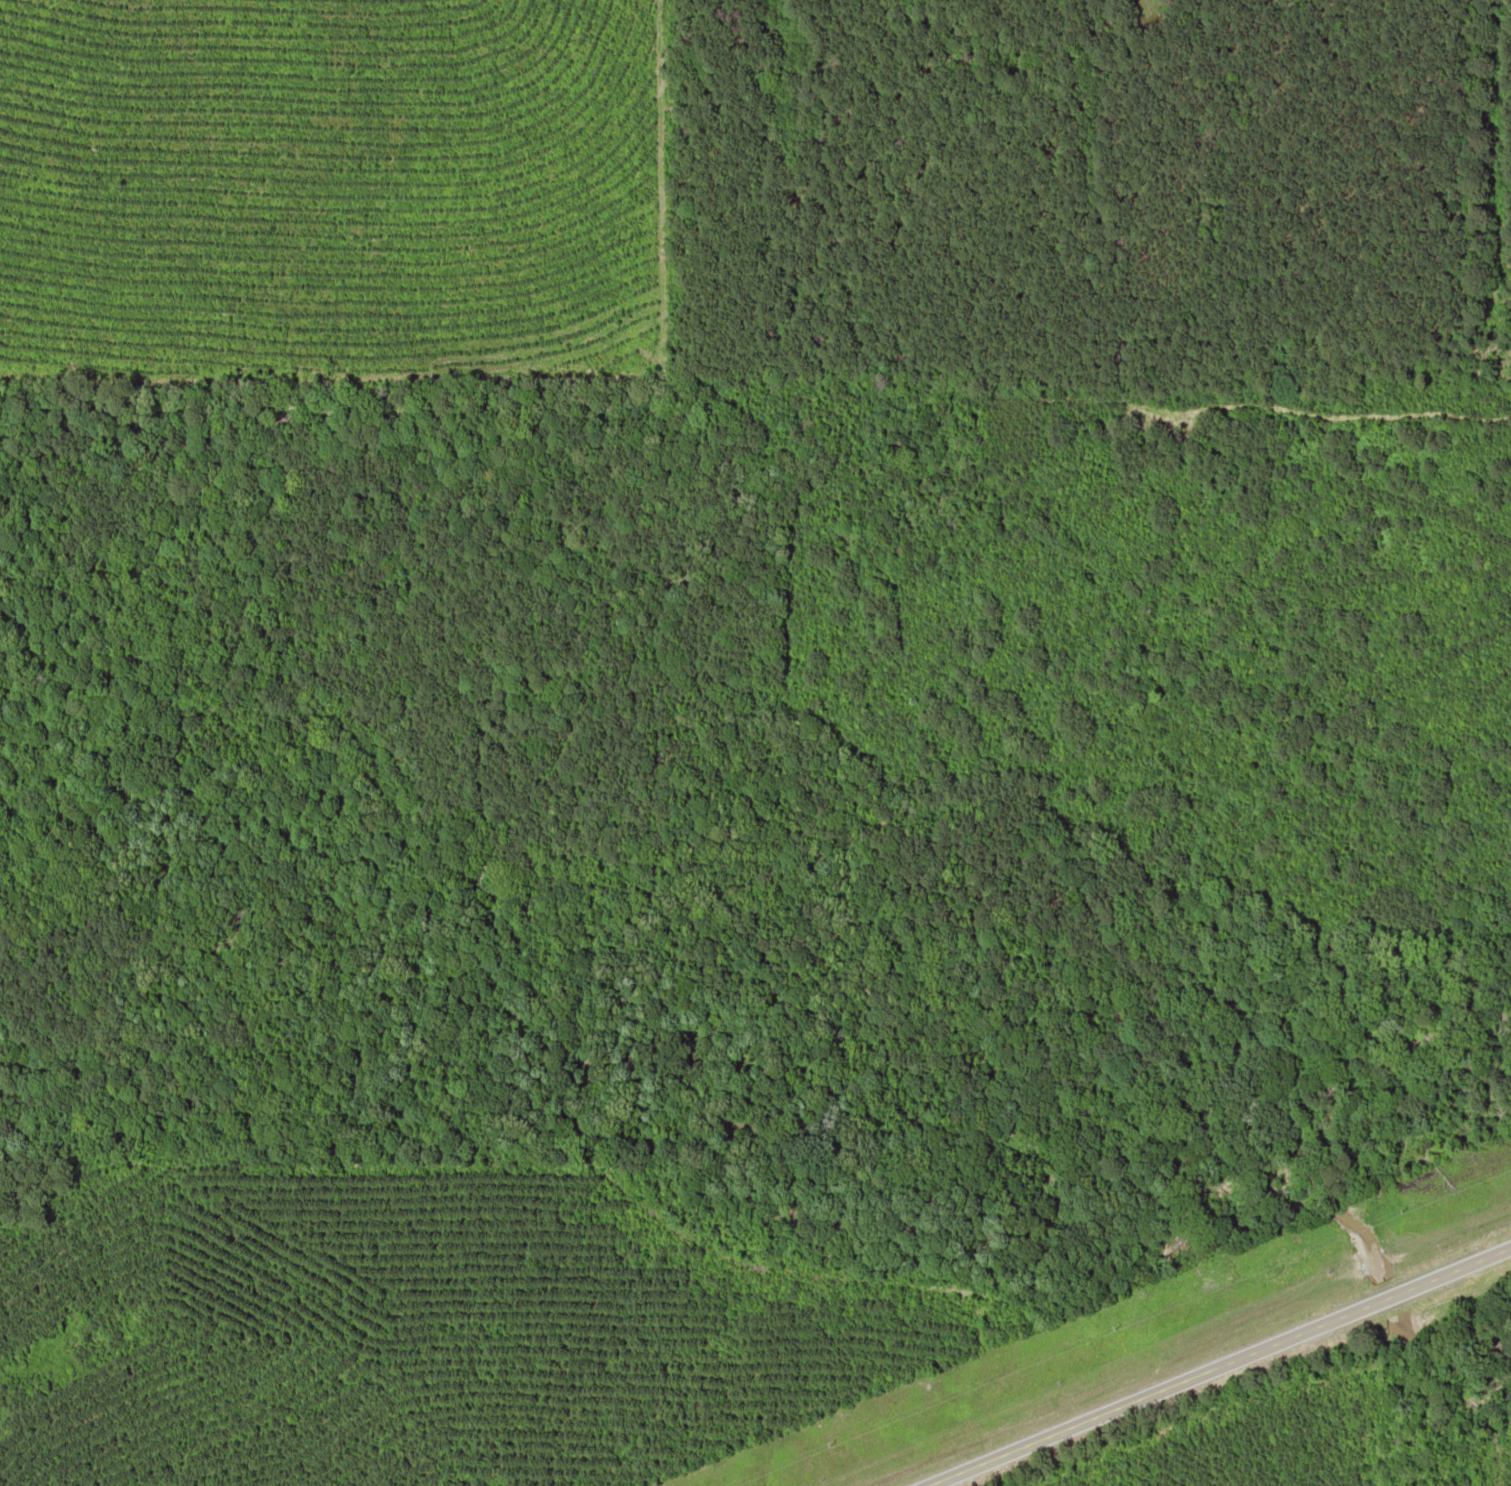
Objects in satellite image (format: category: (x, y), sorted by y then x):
road: (1219, 1366)

